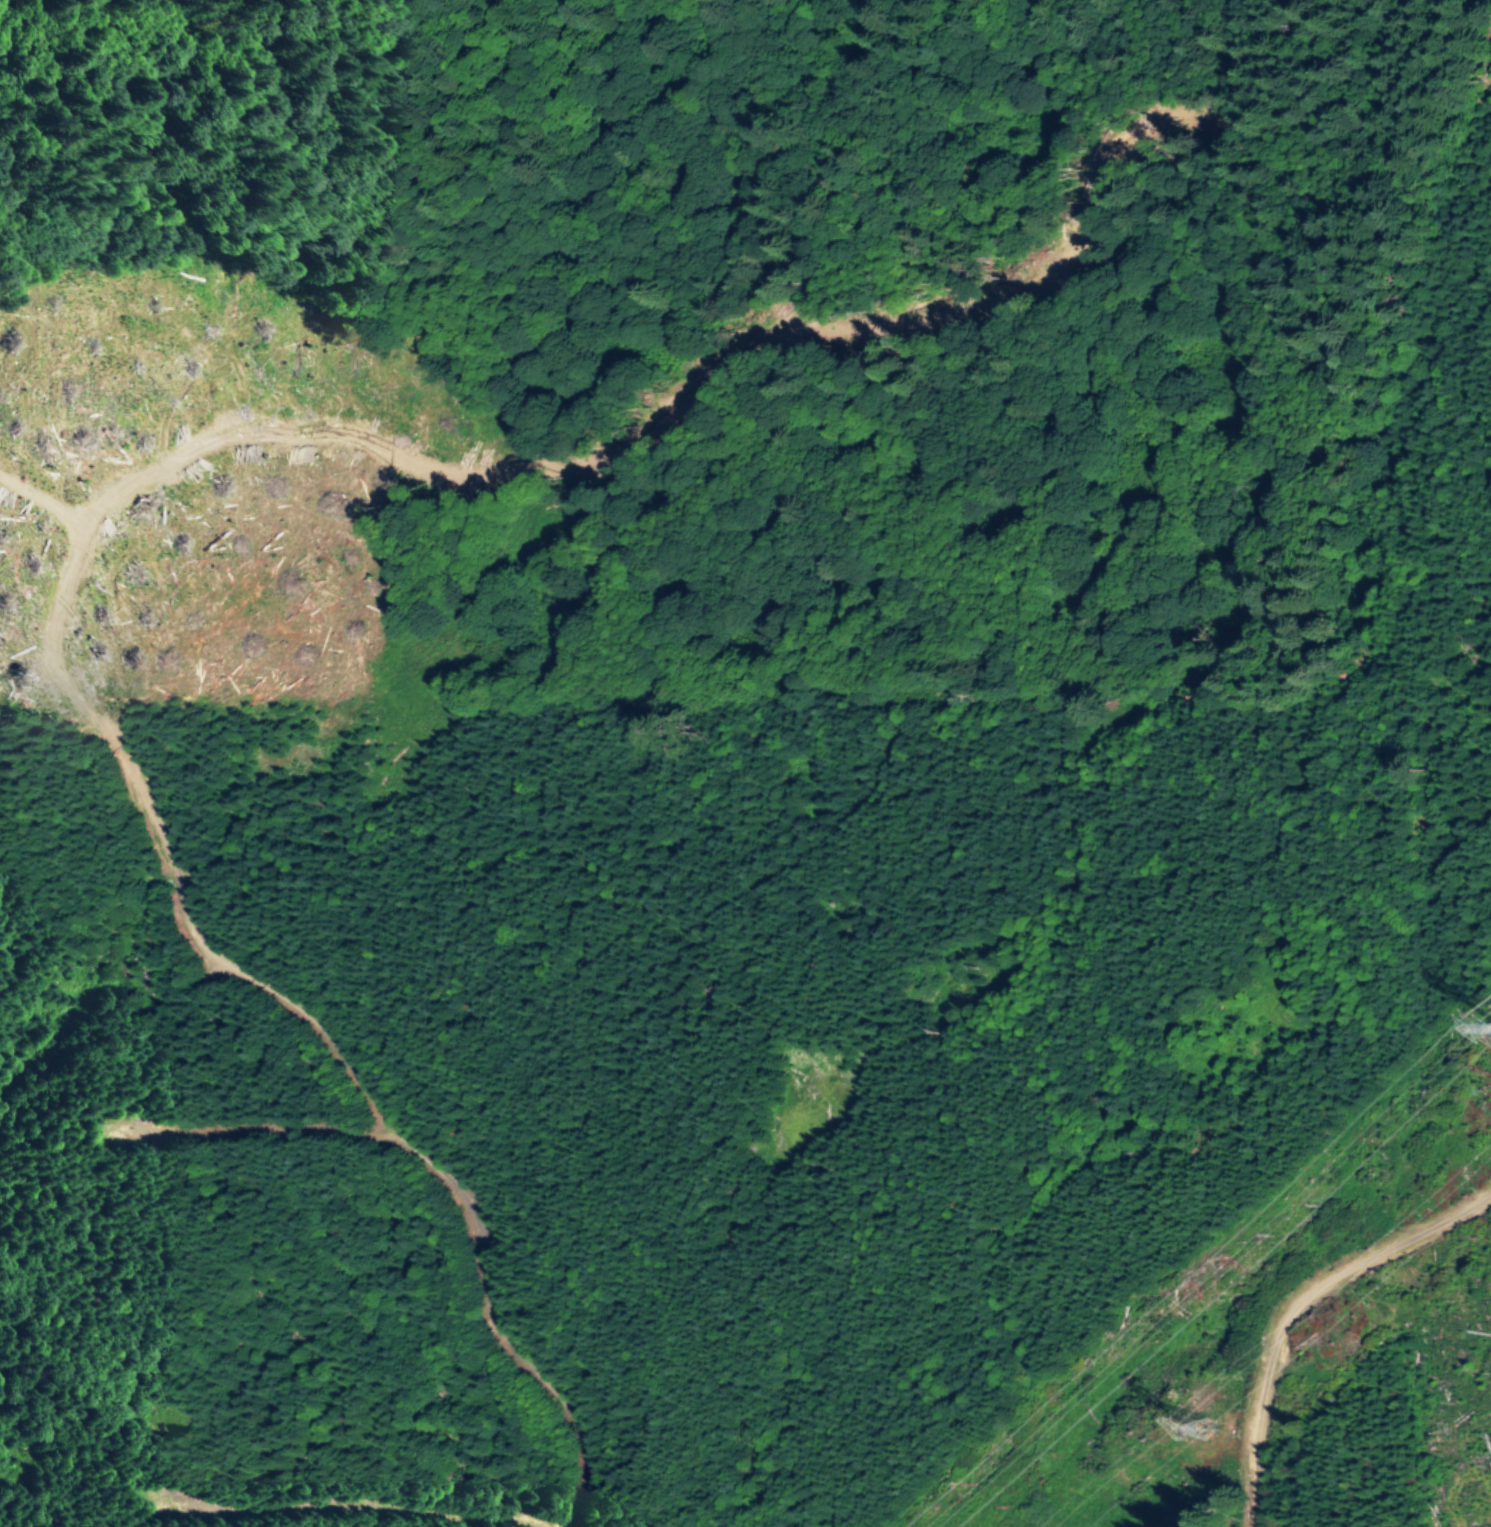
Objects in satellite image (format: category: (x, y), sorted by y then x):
road: (1300, 1314)
power tower: (1206, 1423)

